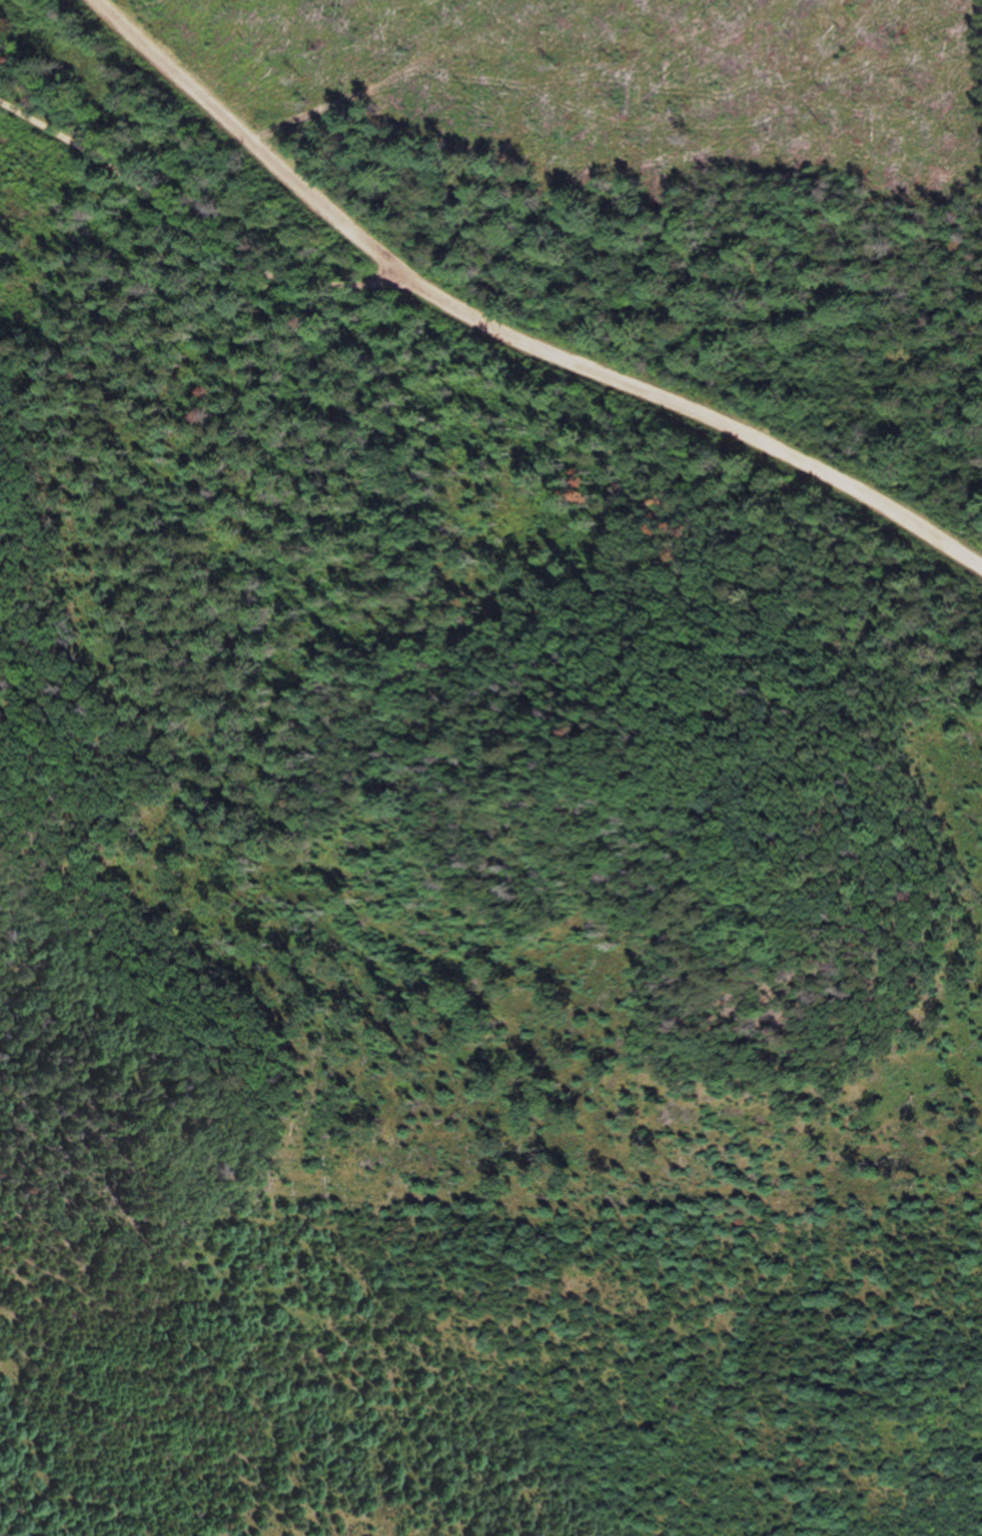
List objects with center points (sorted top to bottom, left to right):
road: (252, 146)
road: (194, 284)
road: (702, 421)

